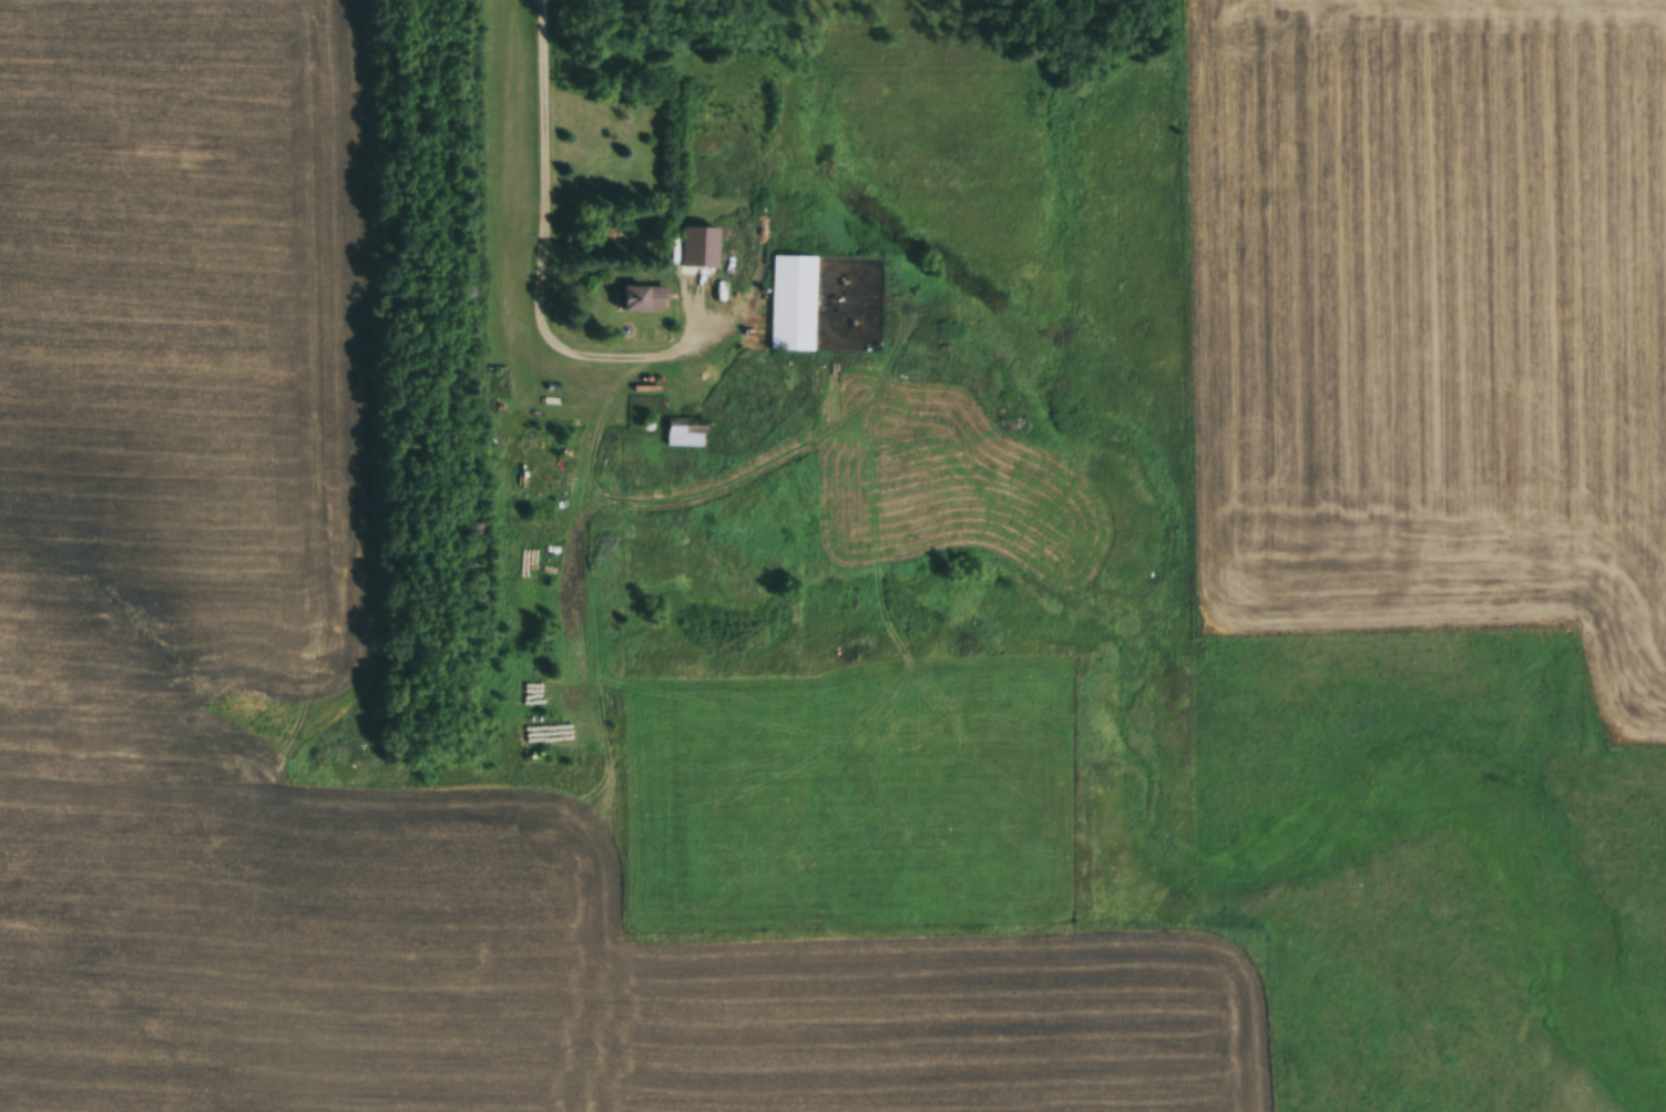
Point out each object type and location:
building: (697, 248)
building: (640, 300)
building: (791, 304)
building: (683, 433)

